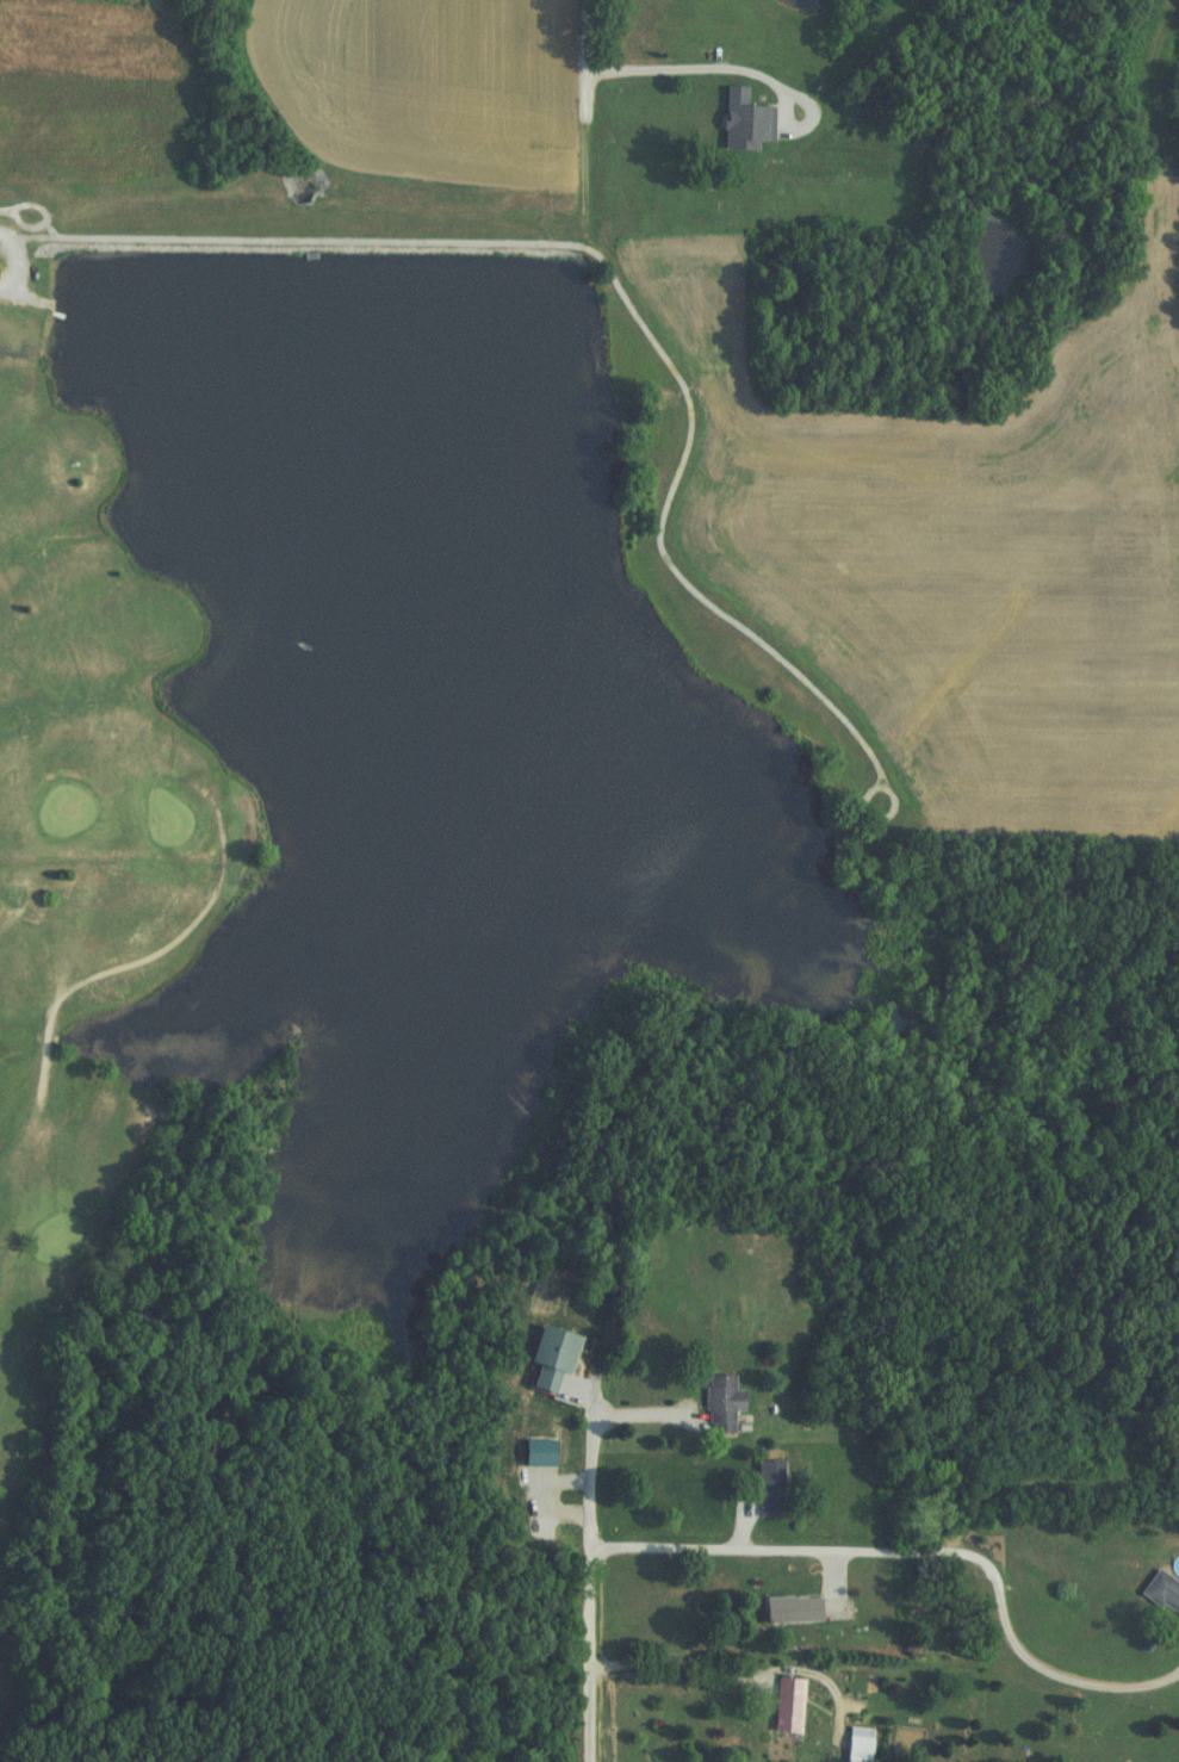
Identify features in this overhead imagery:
road: (589, 72)
road: (721, 77)
building: (743, 118)
road: (13, 253)
road: (13, 286)
building: (546, 1355)
building: (715, 1402)
building: (761, 1488)
road: (584, 1541)
road: (898, 1551)
building: (1160, 1595)
building: (786, 1609)
road: (691, 1664)
road: (1032, 1664)
building: (781, 1704)
building: (852, 1744)

